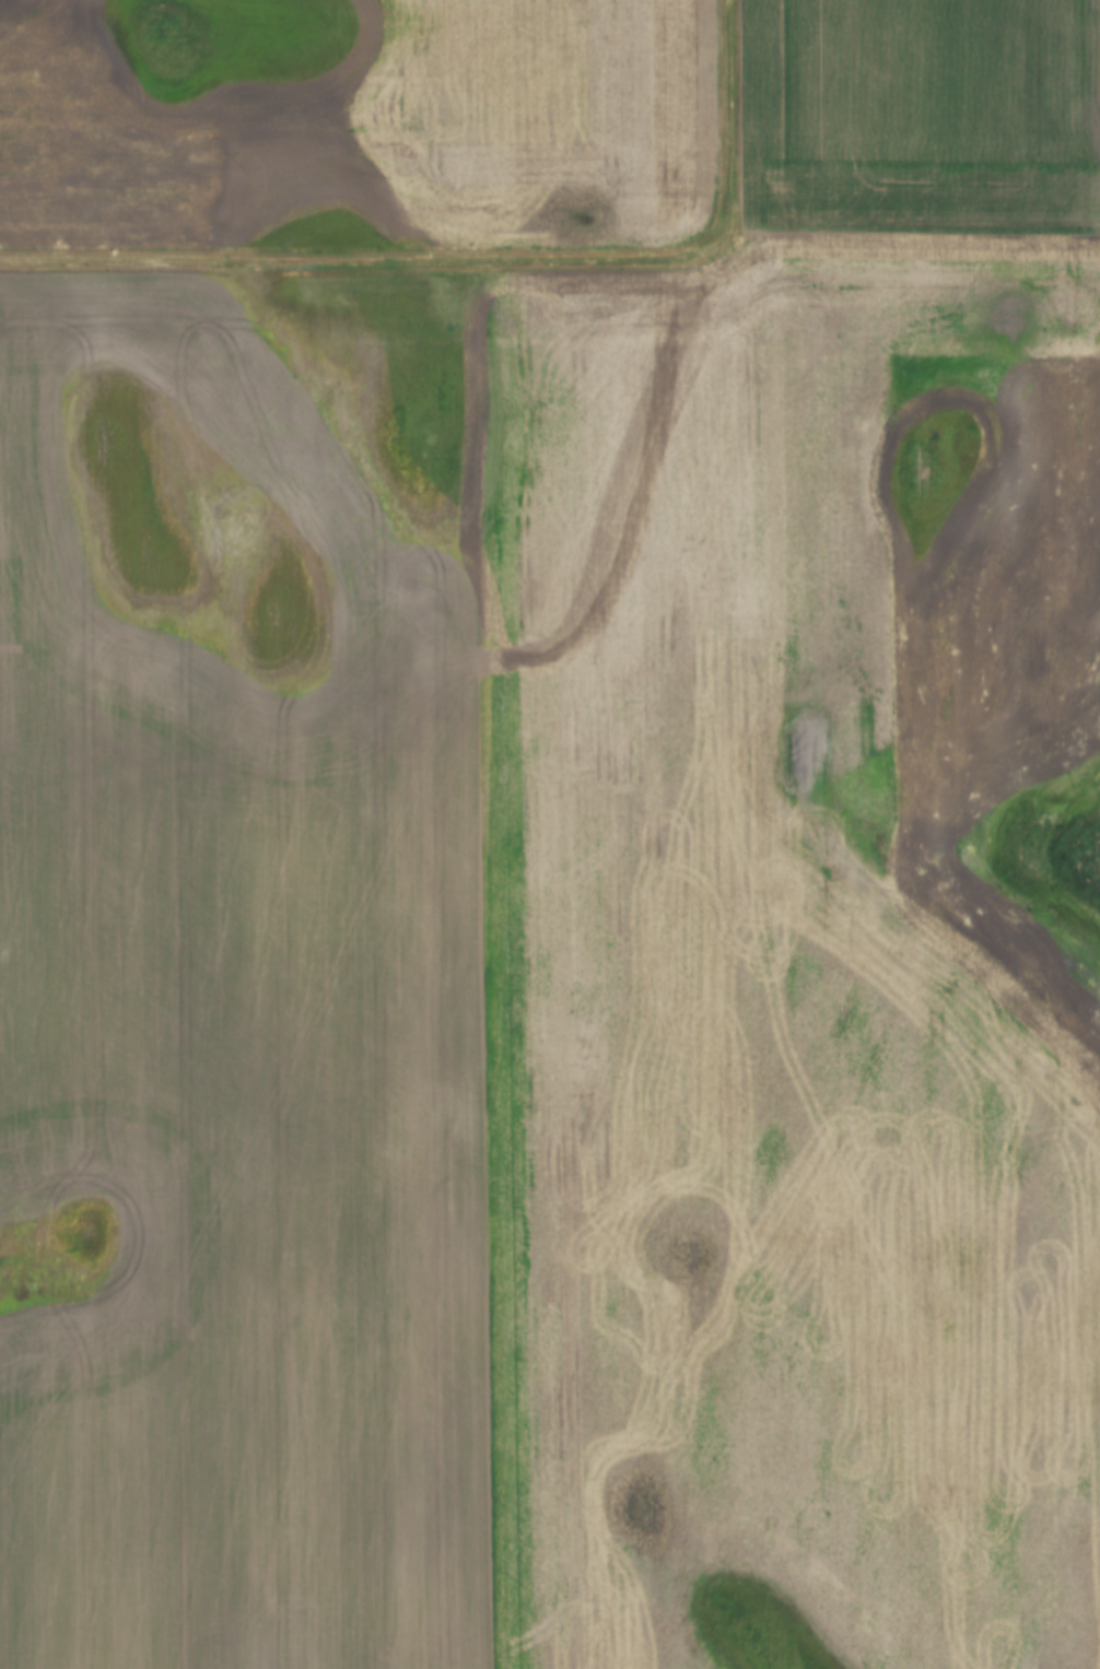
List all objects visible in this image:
building: (820, 198)

